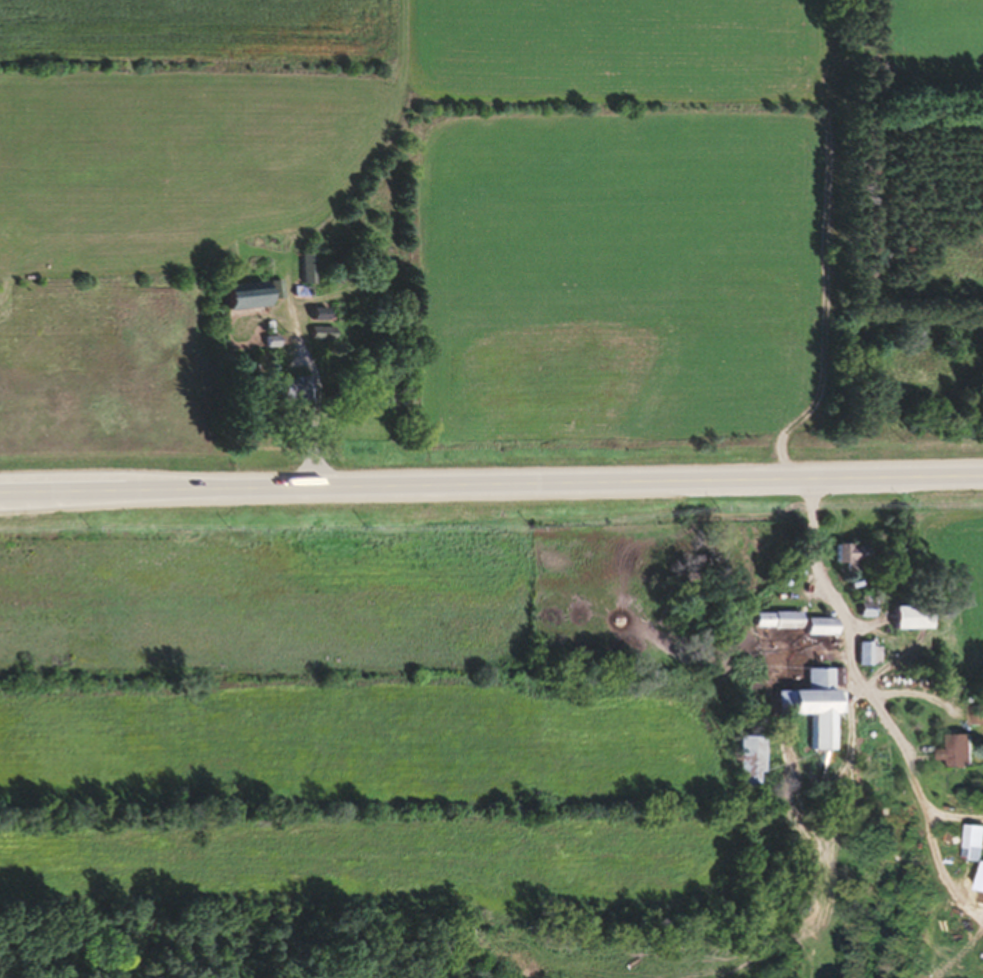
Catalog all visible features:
building: (248, 302)
road: (298, 400)
road: (491, 489)
building: (843, 561)
building: (860, 618)
building: (767, 628)
building: (890, 630)
building: (811, 634)
building: (866, 663)
road: (870, 697)
building: (808, 716)
building: (954, 759)

